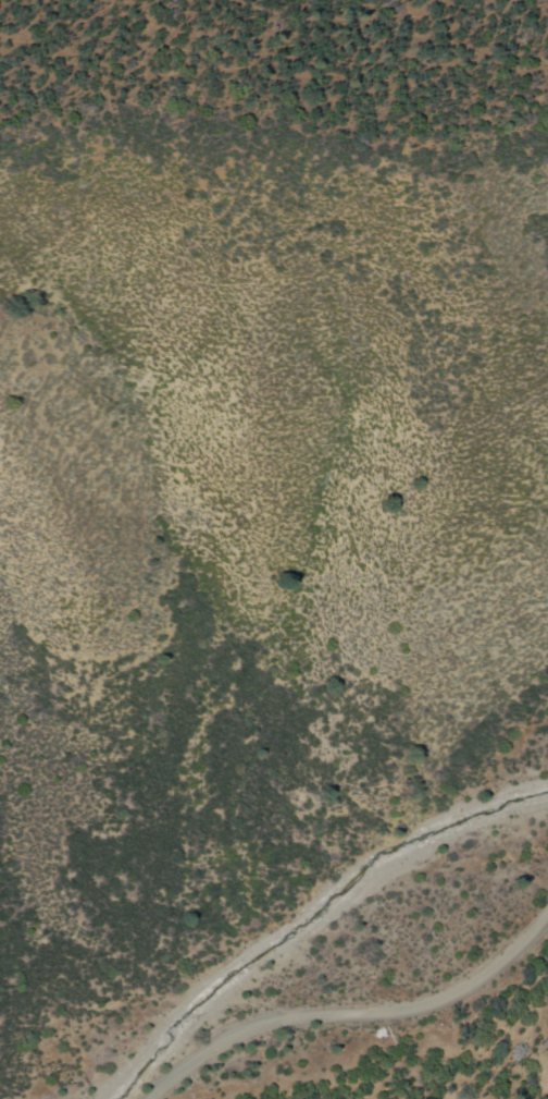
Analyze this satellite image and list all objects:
road: (358, 1023)

